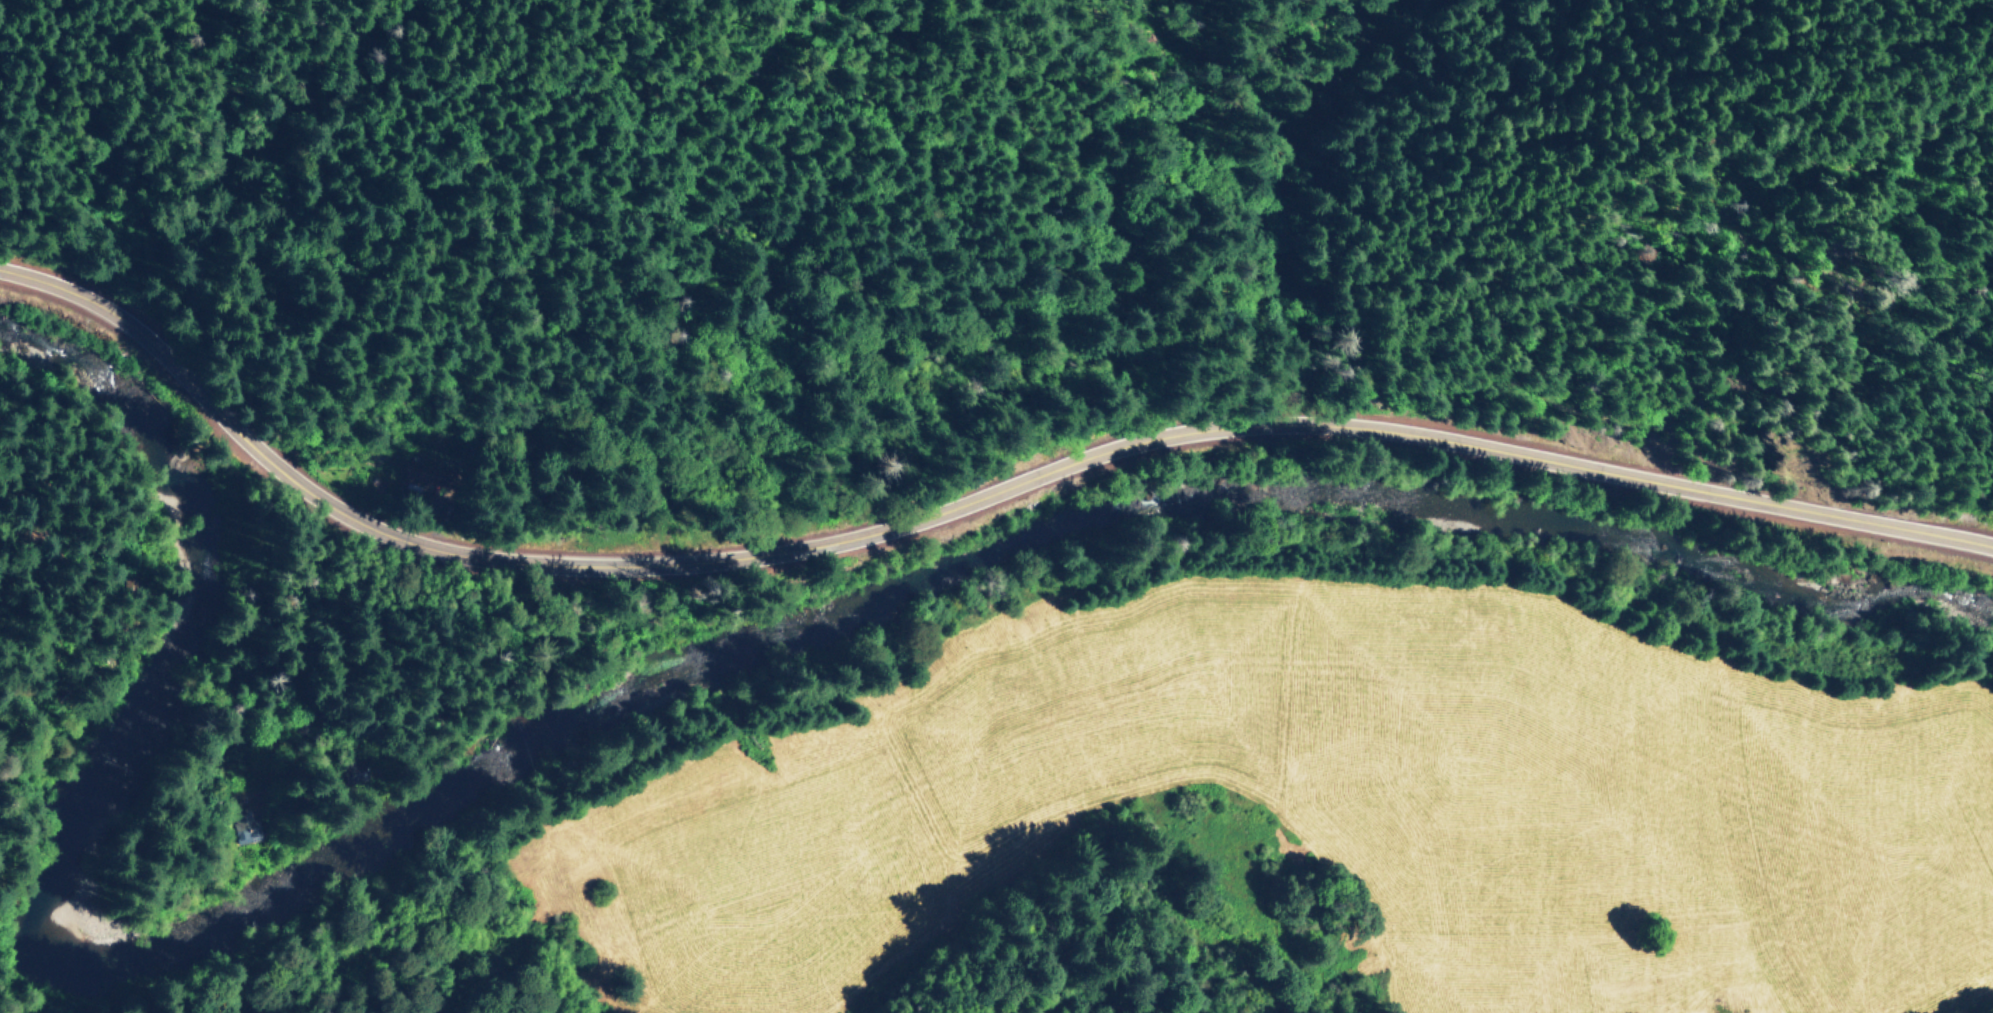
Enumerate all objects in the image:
road: (963, 517)
road: (355, 666)
river: (632, 695)

